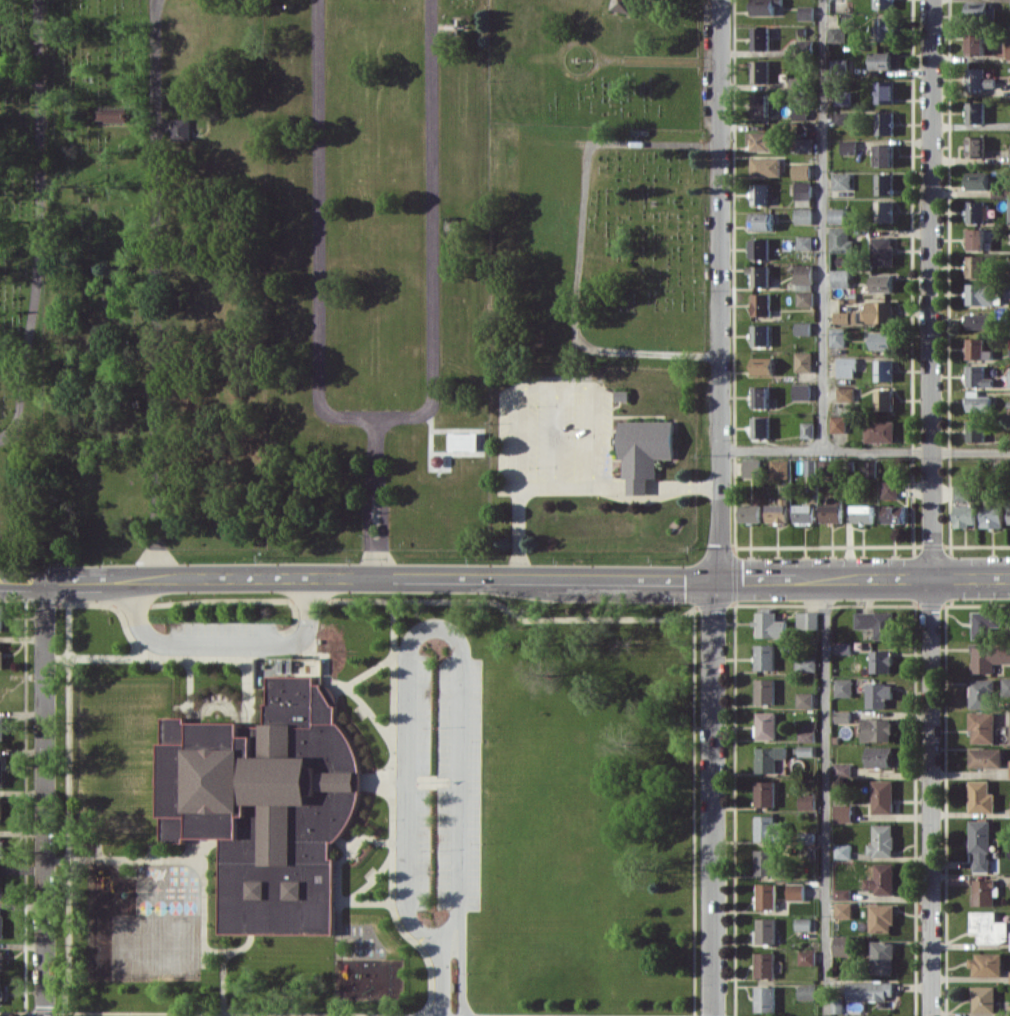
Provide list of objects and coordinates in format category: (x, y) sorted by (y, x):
building: (885, 4)
building: (624, 5)
building: (764, 7)
building: (978, 9)
building: (807, 12)
building: (885, 29)
building: (838, 34)
building: (761, 38)
building: (979, 44)
building: (1008, 50)
building: (885, 60)
park: (594, 62)
building: (839, 66)
building: (761, 71)
building: (979, 78)
building: (885, 92)
building: (844, 98)
building: (761, 104)
building: (976, 112)
building: (115, 114)
building: (844, 117)
building: (885, 123)
building: (181, 129)
building: (763, 141)
building: (805, 145)
building: (850, 146)
building: (976, 146)
building: (885, 155)
building: (866, 161)
building: (766, 166)
building: (802, 171)
building: (978, 180)
building: (842, 181)
building: (885, 184)
building: (805, 193)
building: (761, 194)
building: (885, 211)
building: (976, 211)
building: (804, 215)
building: (839, 216)
building: (763, 221)
building: (1009, 221)
road: (39, 223)
road: (823, 225)
road: (432, 232)
building: (977, 238)
building: (842, 240)
building: (806, 242)
park: (595, 244)
building: (761, 248)
road: (580, 250)
building: (883, 250)
building: (977, 266)
park: (153, 273)
park: (375, 273)
building: (805, 273)
building: (760, 275)
building: (842, 278)
park: (21, 283)
building: (883, 283)
road: (156, 289)
building: (981, 293)
building: (806, 298)
building: (762, 304)
building: (881, 311)
road: (319, 312)
building: (847, 317)
building: (980, 321)
building: (804, 328)
building: (761, 335)
building: (839, 336)
building: (883, 340)
building: (804, 361)
building: (763, 365)
building: (848, 367)
building: (885, 370)
building: (979, 376)
building: (1009, 379)
road: (535, 384)
building: (803, 391)
building: (847, 394)
building: (761, 396)
building: (885, 399)
road: (588, 418)
building: (839, 423)
building: (761, 427)
building: (808, 430)
building: (976, 430)
building: (880, 431)
building: (464, 441)
building: (644, 450)
road: (864, 451)
building: (752, 468)
building: (780, 468)
road: (571, 485)
building: (890, 489)
building: (962, 492)
road: (720, 508)
road: (931, 508)
building: (832, 510)
building: (777, 511)
building: (1009, 512)
building: (749, 513)
building: (804, 513)
building: (863, 513)
building: (895, 513)
building: (965, 516)
building: (991, 516)
road: (504, 578)
building: (2, 617)
building: (807, 620)
building: (877, 623)
building: (986, 624)
road: (430, 625)
building: (770, 625)
road: (225, 644)
building: (1, 654)
building: (765, 657)
building: (989, 657)
building: (881, 661)
building: (805, 664)
building: (1006, 686)
building: (844, 687)
building: (765, 690)
building: (981, 693)
building: (879, 694)
building: (804, 699)
building: (842, 716)
building: (766, 725)
building: (983, 726)
building: (877, 729)
building: (2, 730)
building: (806, 736)
building: (880, 756)
building: (986, 757)
building: (769, 758)
building: (2, 769)
building: (842, 769)
building: (260, 777)
parking lot: (438, 784)
building: (765, 793)
building: (883, 796)
building: (981, 797)
road: (826, 798)
road: (44, 799)
building: (807, 801)
building: (1, 809)
park: (585, 811)
building: (843, 813)
building: (769, 829)
building: (882, 841)
building: (980, 843)
building: (1, 845)
building: (843, 851)
building: (765, 862)
building: (882, 879)
building: (258, 889)
building: (295, 889)
building: (796, 891)
building: (2, 892)
building: (983, 892)
building: (842, 893)
building: (766, 896)
building: (844, 910)
building: (249, 914)
building: (882, 918)
building: (1, 921)
building: (803, 924)
building: (989, 927)
building: (766, 930)
building: (844, 945)
park: (157, 946)
building: (97, 950)
building: (807, 957)
building: (883, 957)
building: (2, 958)
building: (765, 964)
building: (986, 964)
building: (1009, 978)
building: (870, 990)
building: (1, 992)
building: (807, 992)
building: (983, 998)
building: (765, 999)

